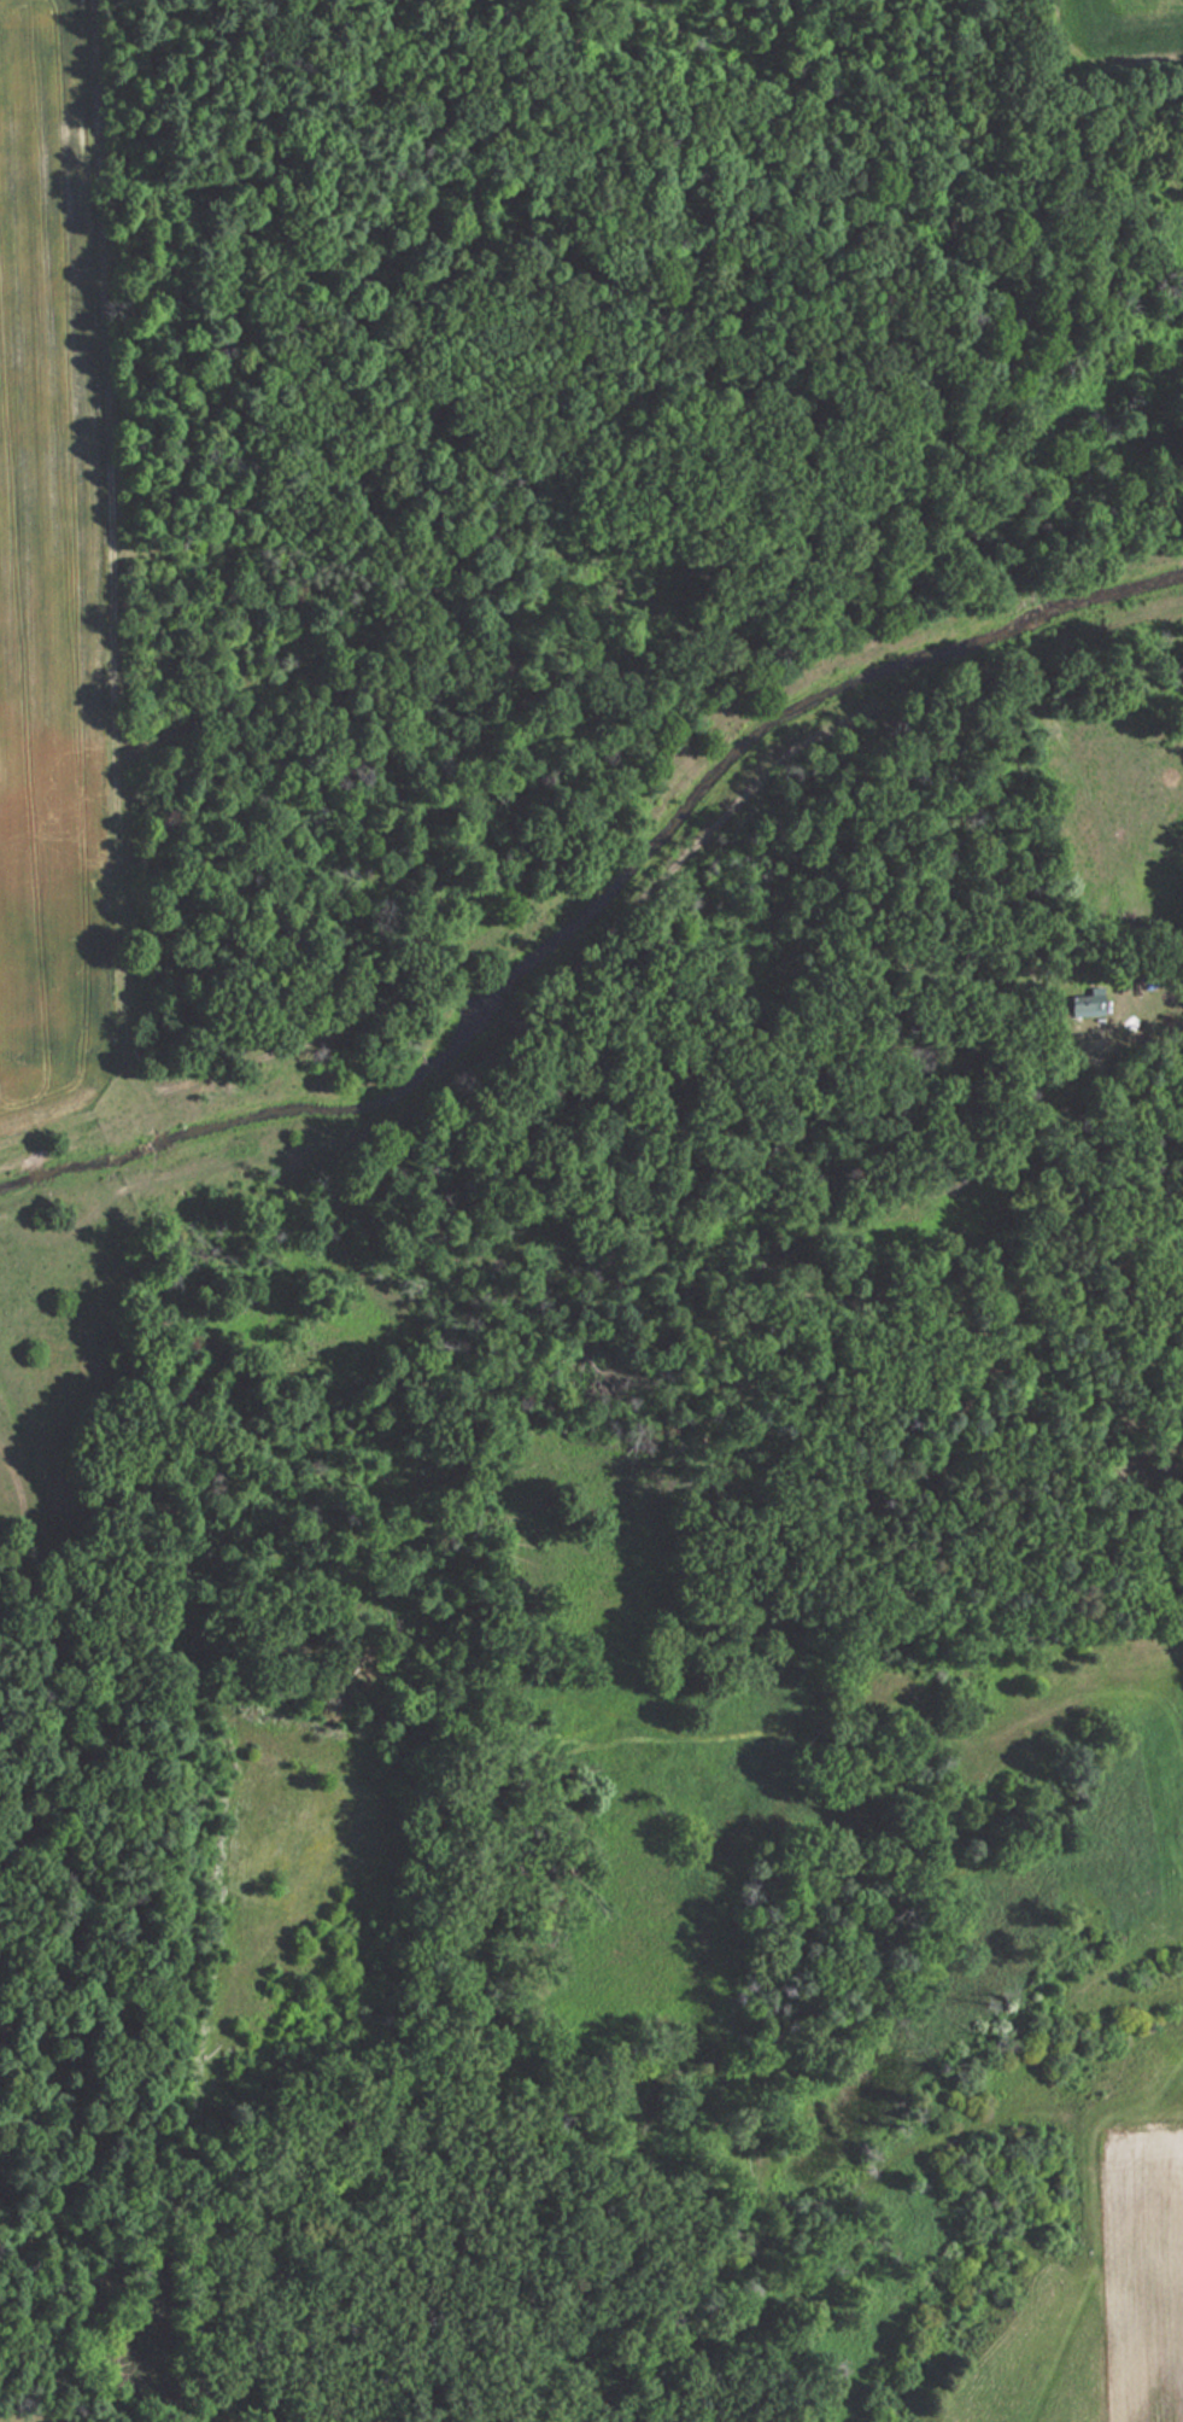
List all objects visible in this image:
building: (1085, 1000)

